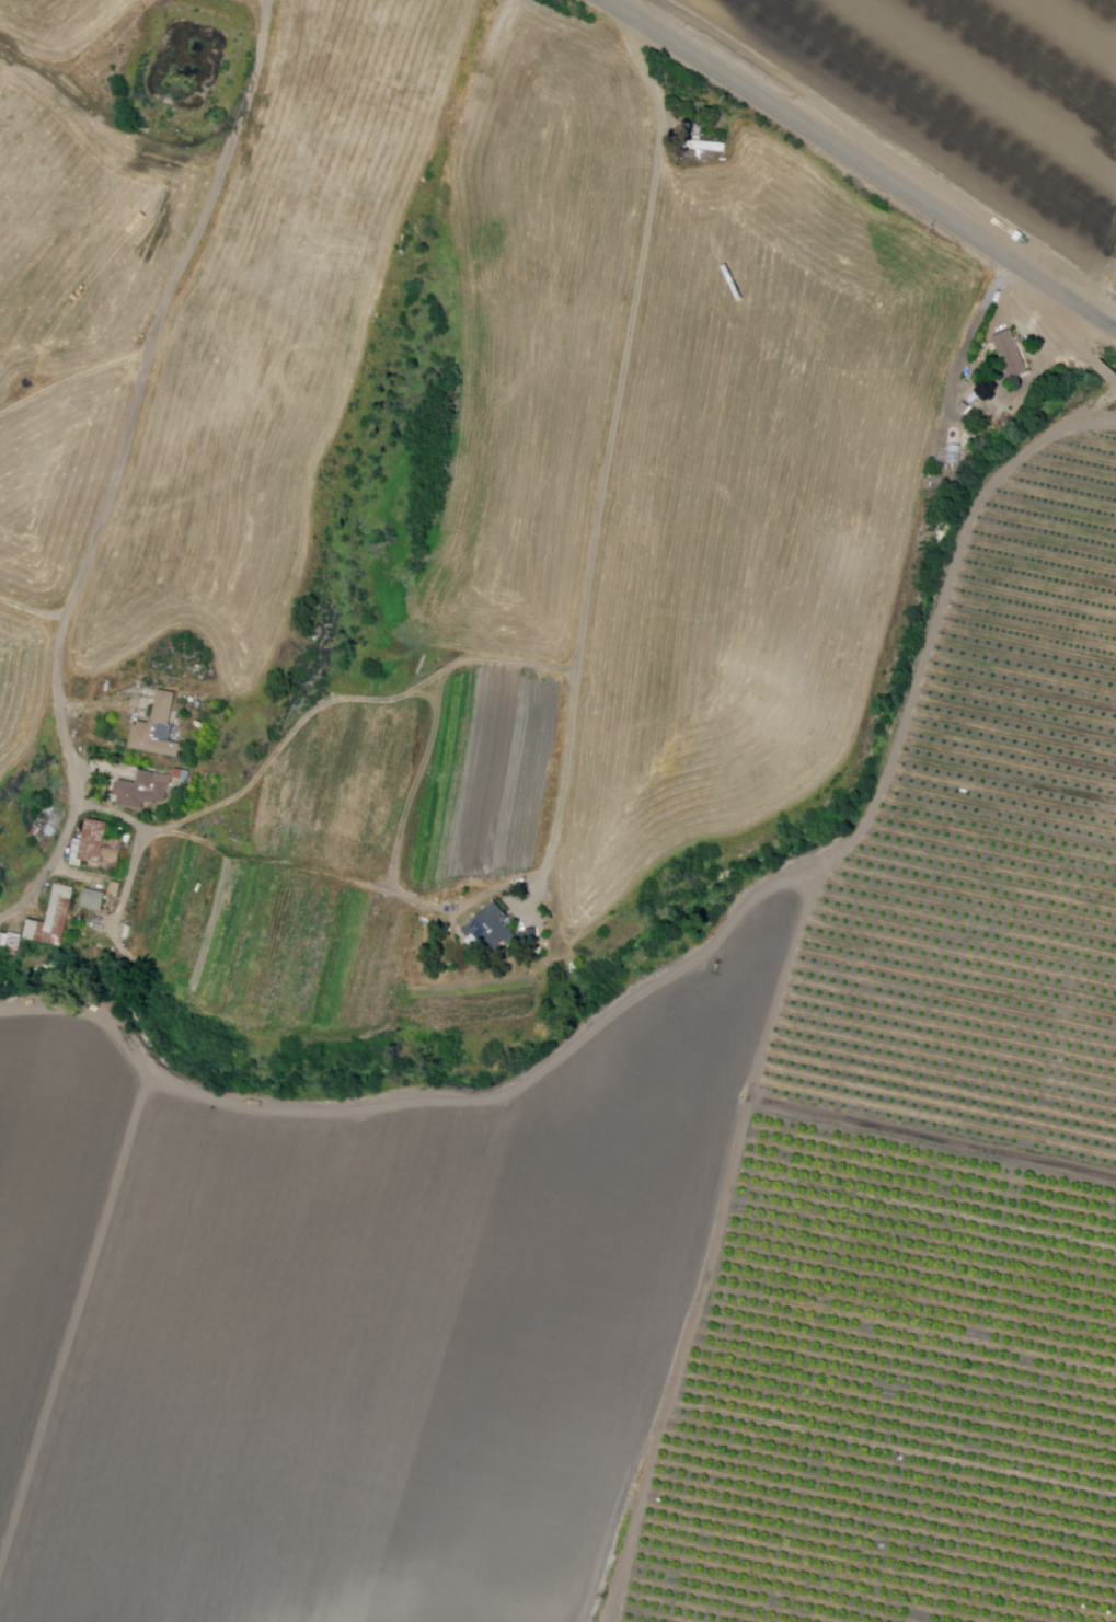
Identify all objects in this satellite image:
crop: (60, 27)
crop: (954, 103)
building: (705, 147)
road: (855, 165)
crop: (39, 204)
crop: (130, 255)
crop: (544, 321)
road: (966, 338)
crop: (271, 342)
building: (1013, 355)
road: (73, 379)
building: (973, 390)
building: (967, 407)
road: (615, 461)
road: (119, 465)
crop: (58, 480)
crop: (751, 511)
crop: (20, 693)
building: (159, 731)
building: (183, 774)
crop: (416, 790)
building: (145, 791)
building: (44, 824)
building: (99, 849)
crop: (989, 853)
building: (117, 889)
building: (95, 901)
building: (55, 919)
building: (493, 930)
building: (129, 933)
building: (531, 939)
building: (12, 945)
crop: (268, 947)
crop: (469, 1003)
road: (934, 1139)
crop: (49, 1203)
crop: (553, 1305)
crop: (219, 1372)

